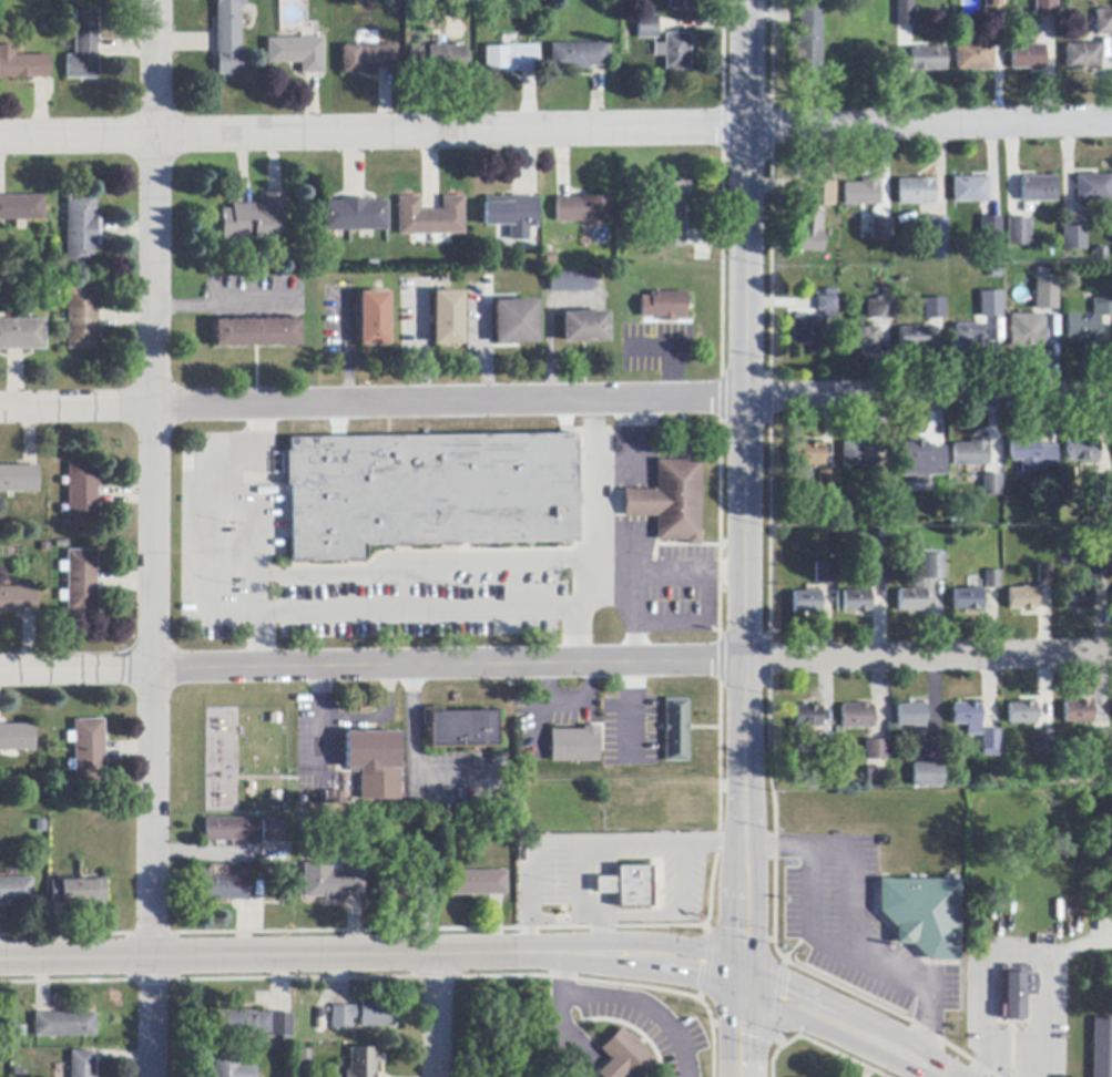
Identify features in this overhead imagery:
building: (679, 4)
building: (994, 8)
building: (1045, 8)
building: (906, 13)
building: (1104, 22)
building: (647, 27)
building: (228, 38)
building: (807, 42)
building: (83, 47)
building: (674, 52)
building: (296, 53)
building: (578, 57)
building: (975, 57)
building: (1028, 57)
building: (1083, 57)
building: (366, 59)
building: (437, 59)
building: (511, 59)
building: (928, 59)
building: (22, 65)
road: (555, 131)
building: (1093, 188)
building: (1039, 189)
building: (971, 191)
building: (917, 192)
building: (863, 193)
building: (825, 194)
building: (583, 208)
building: (21, 209)
building: (673, 213)
building: (512, 215)
building: (355, 216)
building: (430, 217)
building: (254, 219)
building: (876, 223)
building: (991, 228)
building: (81, 230)
building: (937, 233)
building: (1018, 233)
building: (808, 234)
building: (1074, 238)
building: (572, 281)
building: (1044, 291)
building: (989, 301)
road: (224, 304)
building: (669, 306)
building: (828, 307)
building: (880, 308)
building: (935, 309)
building: (1050, 317)
building: (82, 318)
building: (374, 319)
building: (448, 319)
building: (516, 322)
building: (1088, 325)
building: (585, 328)
building: (257, 332)
building: (1026, 332)
building: (22, 335)
building: (806, 335)
building: (970, 337)
building: (914, 338)
building: (861, 339)
road: (747, 366)
road: (555, 401)
building: (1082, 451)
building: (971, 453)
building: (859, 454)
building: (809, 455)
building: (1032, 457)
building: (921, 461)
building: (18, 479)
building: (883, 480)
building: (827, 484)
building: (992, 485)
building: (1104, 486)
road: (637, 488)
building: (429, 492)
building: (81, 495)
building: (671, 502)
road: (589, 506)
road: (238, 533)
road: (154, 538)
building: (935, 566)
building: (1099, 566)
building: (879, 567)
building: (825, 573)
building: (1045, 574)
road: (649, 576)
building: (993, 581)
building: (81, 582)
road: (612, 582)
building: (1023, 598)
building: (1078, 598)
building: (969, 599)
building: (18, 601)
building: (912, 601)
building: (857, 602)
building: (807, 603)
road: (442, 607)
road: (555, 664)
road: (320, 691)
building: (1079, 712)
building: (1021, 714)
building: (912, 715)
road: (378, 716)
building: (858, 717)
building: (969, 718)
building: (806, 720)
building: (459, 728)
building: (676, 731)
building: (17, 738)
building: (1100, 740)
road: (323, 741)
building: (991, 743)
building: (1045, 743)
building: (574, 745)
building: (819, 750)
building: (88, 751)
building: (370, 751)
road: (415, 751)
building: (877, 751)
building: (877, 775)
building: (928, 776)
building: (229, 830)
building: (271, 831)
road: (744, 841)
road: (212, 850)
building: (331, 882)
building: (478, 884)
building: (406, 885)
building: (629, 888)
building: (222, 889)
building: (16, 890)
building: (76, 891)
building: (283, 892)
road: (674, 900)
road: (730, 903)
road: (756, 903)
road: (547, 915)
building: (924, 915)
road: (850, 919)
road: (1080, 945)
road: (263, 956)
traffic signals: (727, 956)
road: (755, 967)
traffic signals: (756, 968)
traffic signals: (727, 986)
road: (731, 987)
road: (985, 987)
building: (1018, 994)
traffic signals: (756, 1001)
building: (363, 1015)
road: (432, 1015)
road: (1047, 1015)
building: (254, 1024)
building: (64, 1025)
building: (1102, 1047)
building: (625, 1057)
building: (304, 1059)
building: (361, 1063)
building: (81, 1065)
building: (231, 1067)

